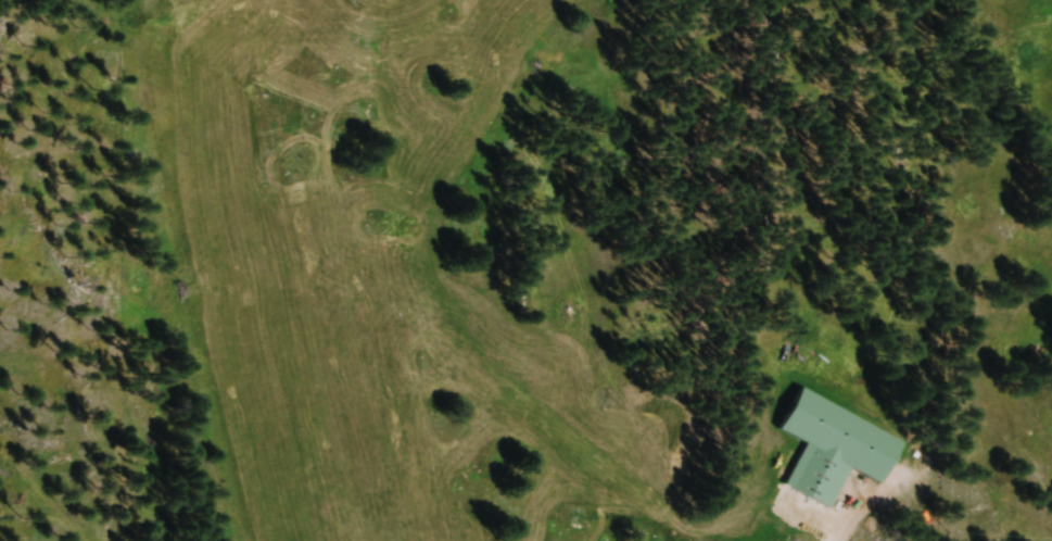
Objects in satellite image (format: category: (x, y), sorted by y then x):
building: (831, 451)

